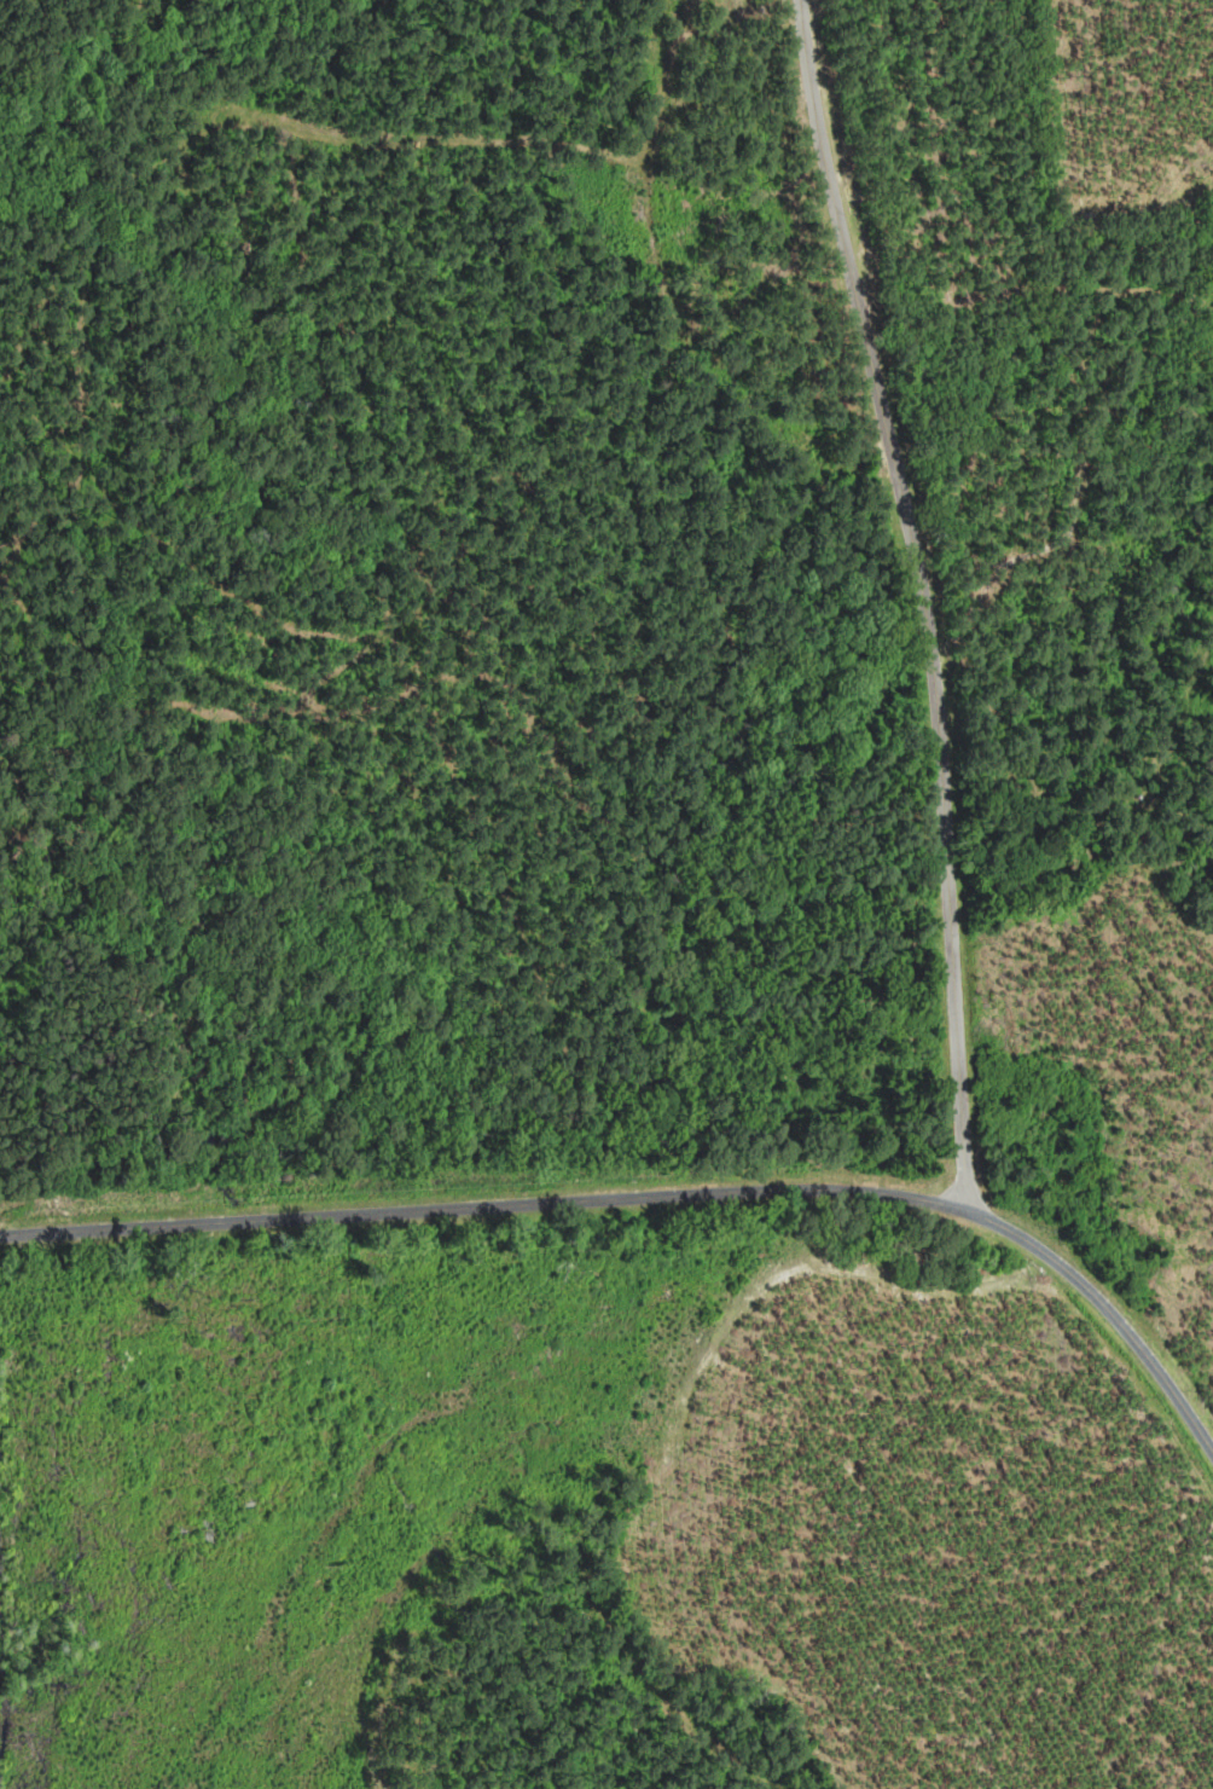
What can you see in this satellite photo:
road: (924, 600)
road: (658, 1195)

